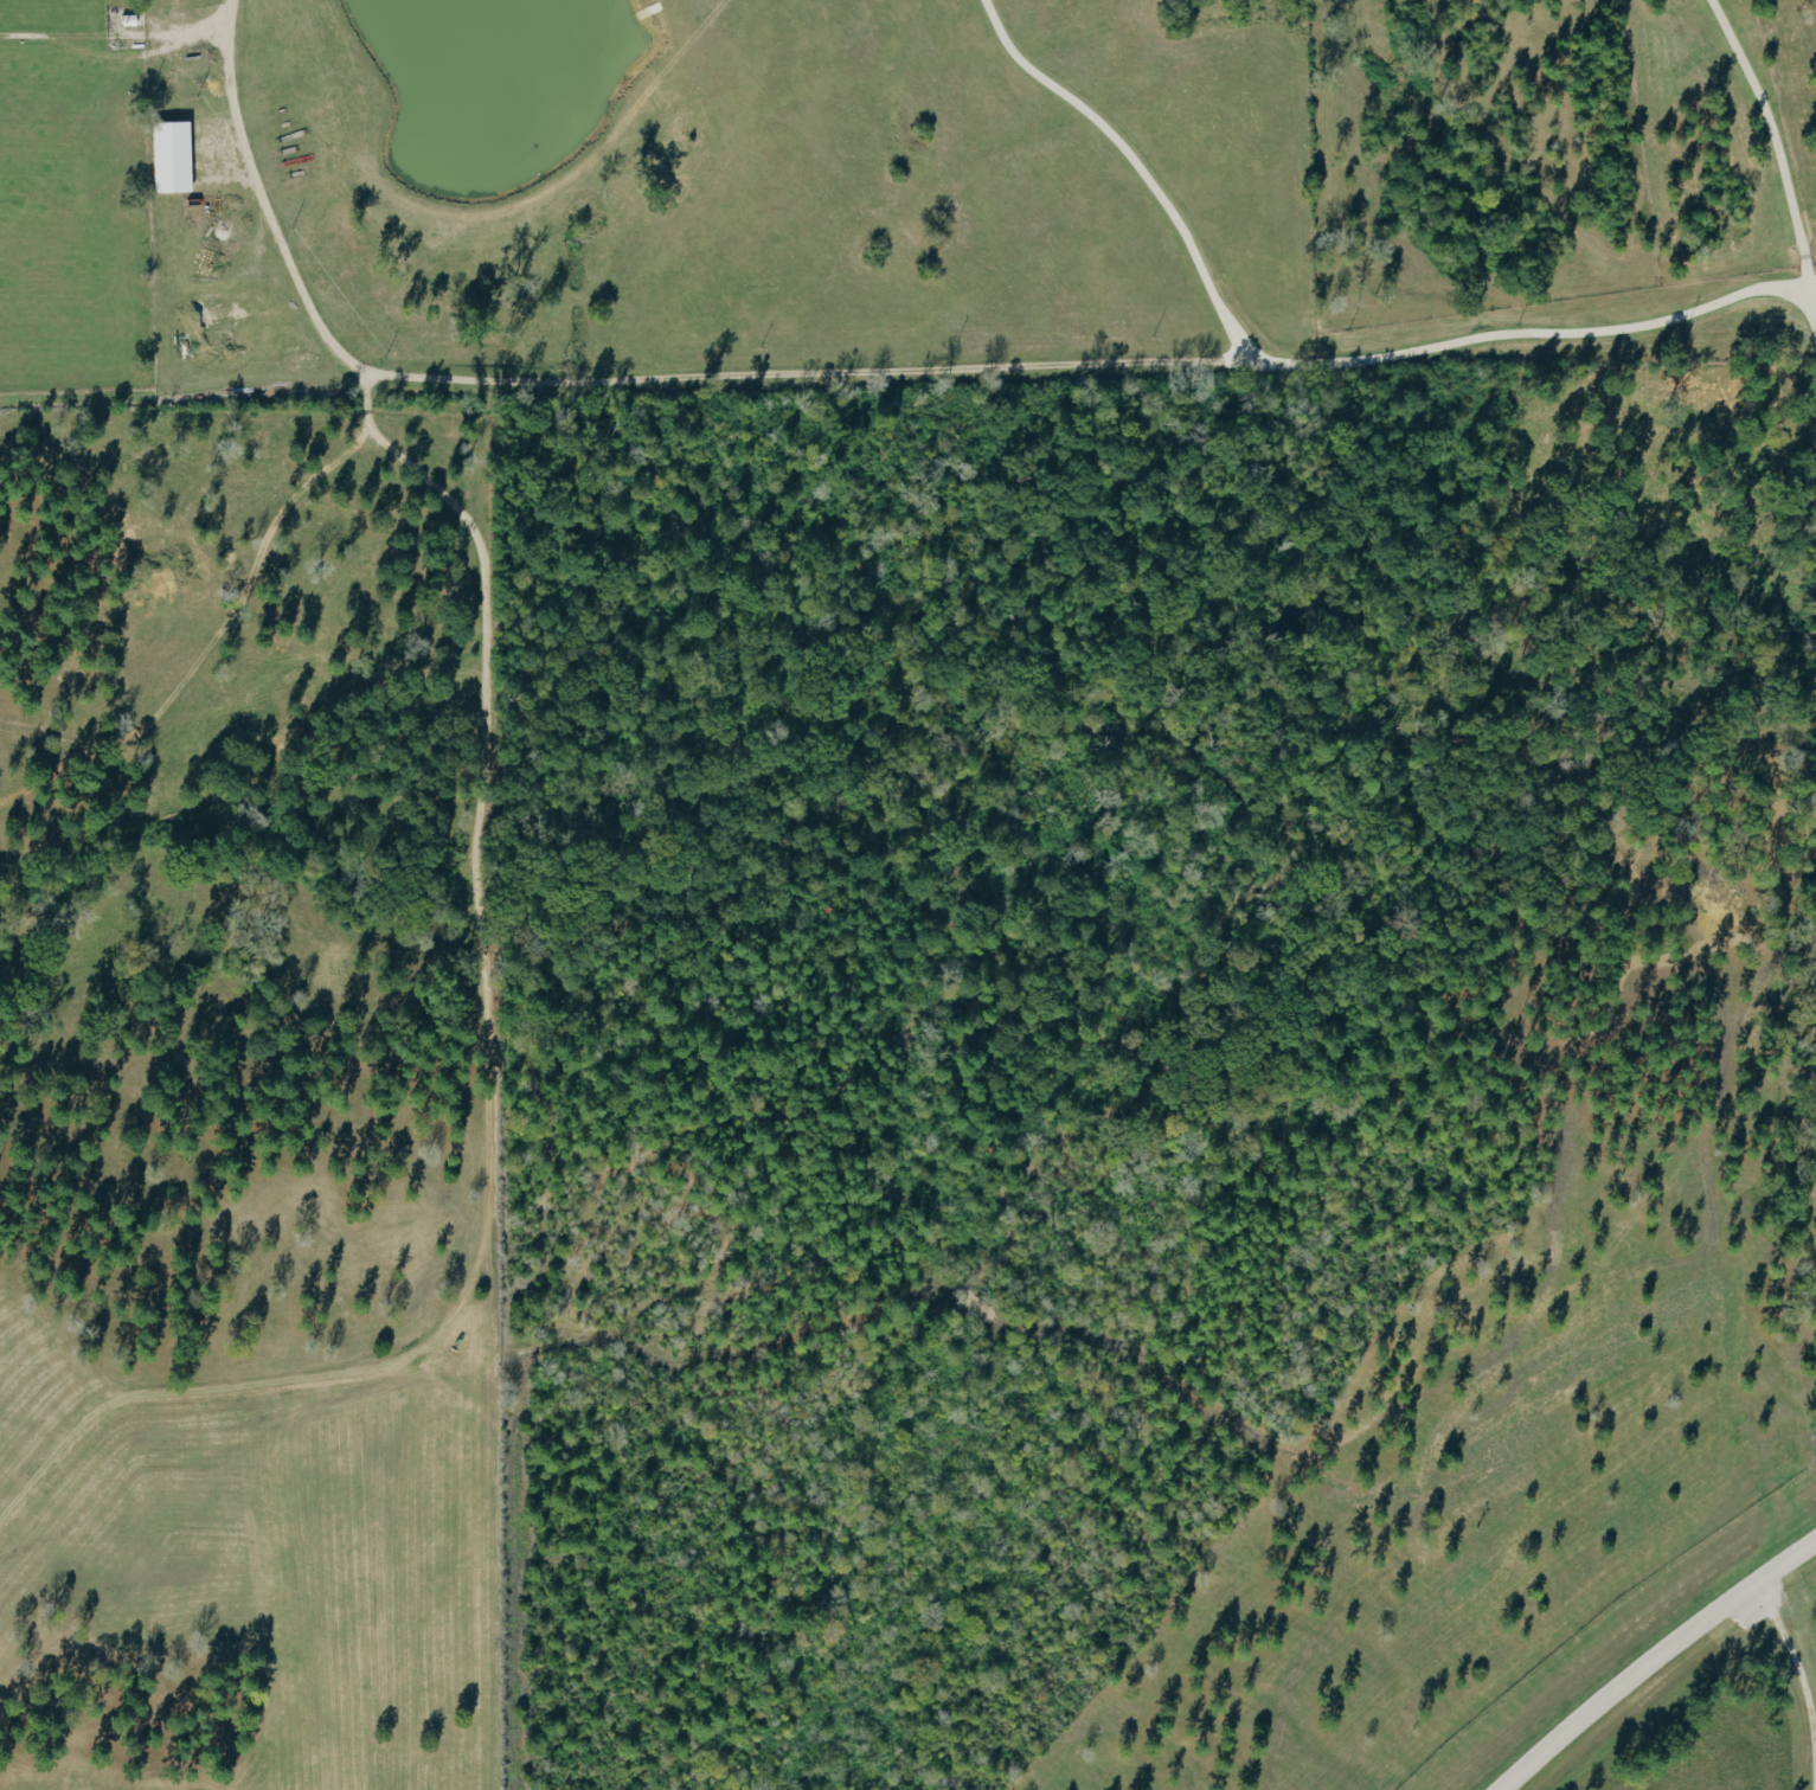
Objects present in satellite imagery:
road: (123, 33)
road: (1782, 139)
building: (177, 158)
road: (1654, 1660)
road: (1801, 1683)

